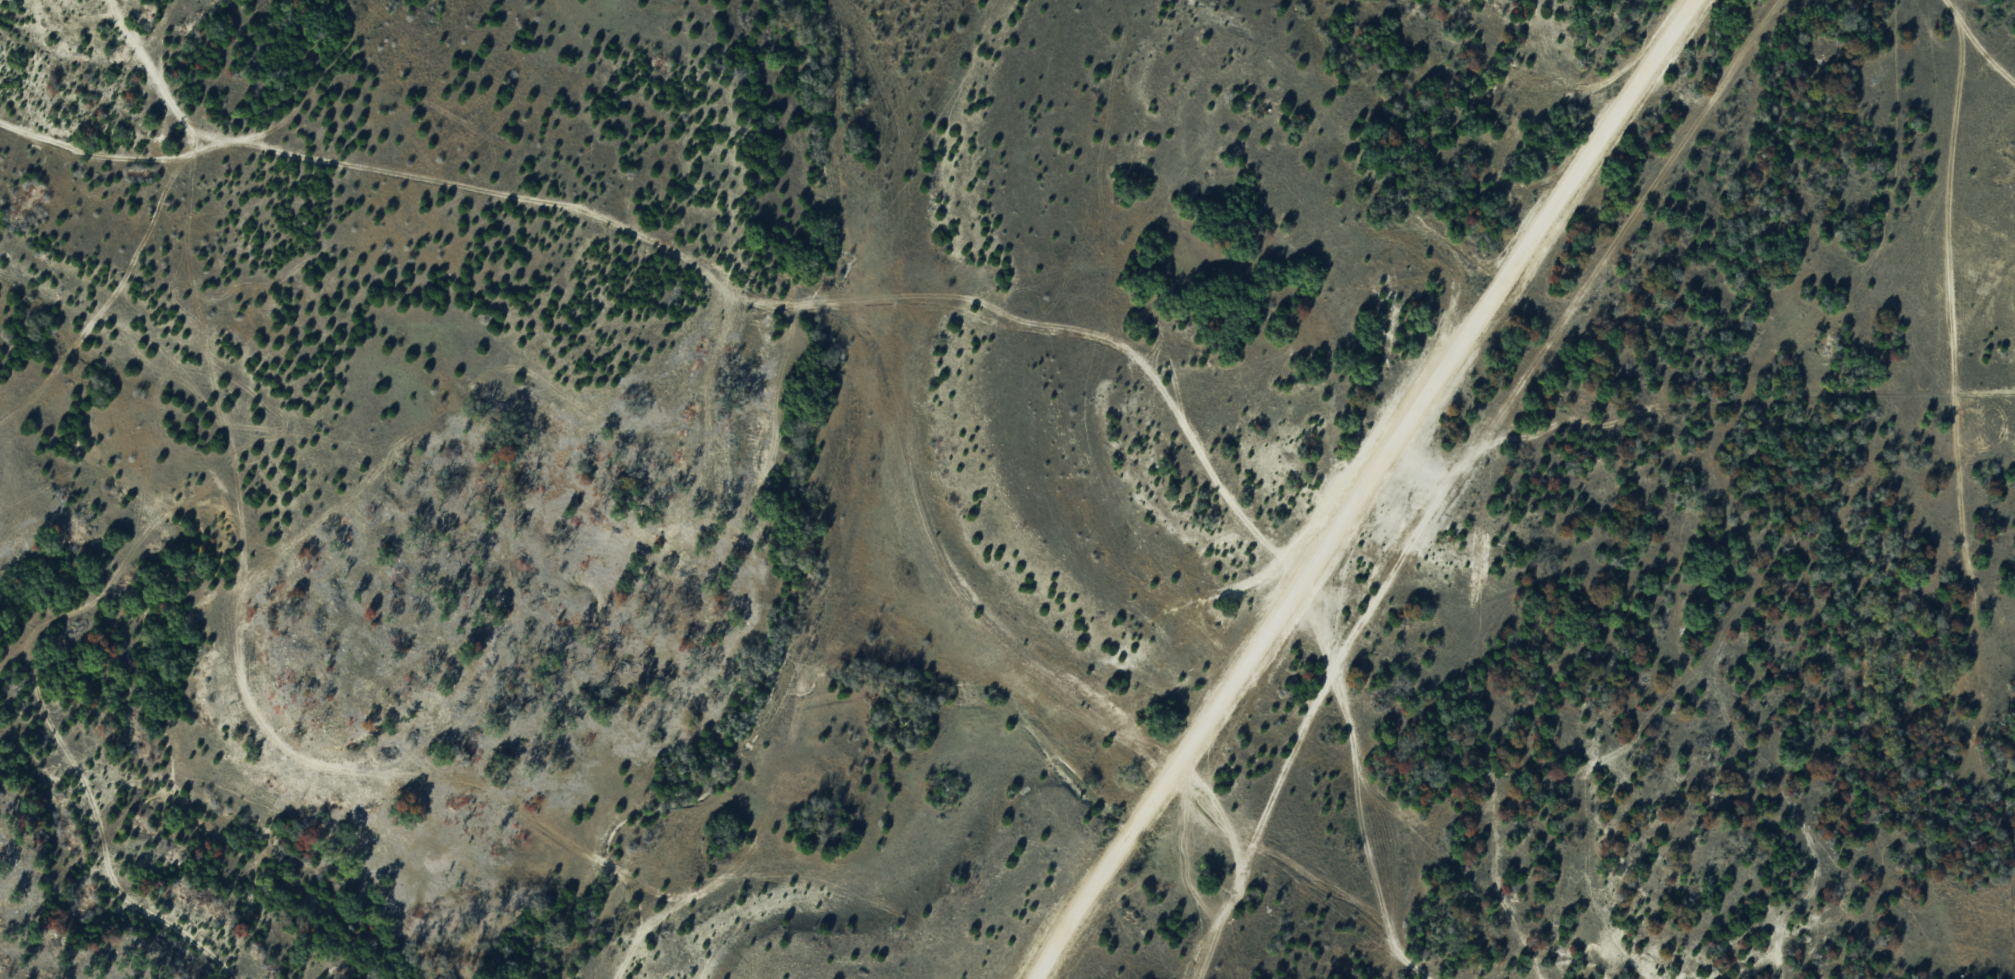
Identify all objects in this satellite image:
road: (1361, 488)

